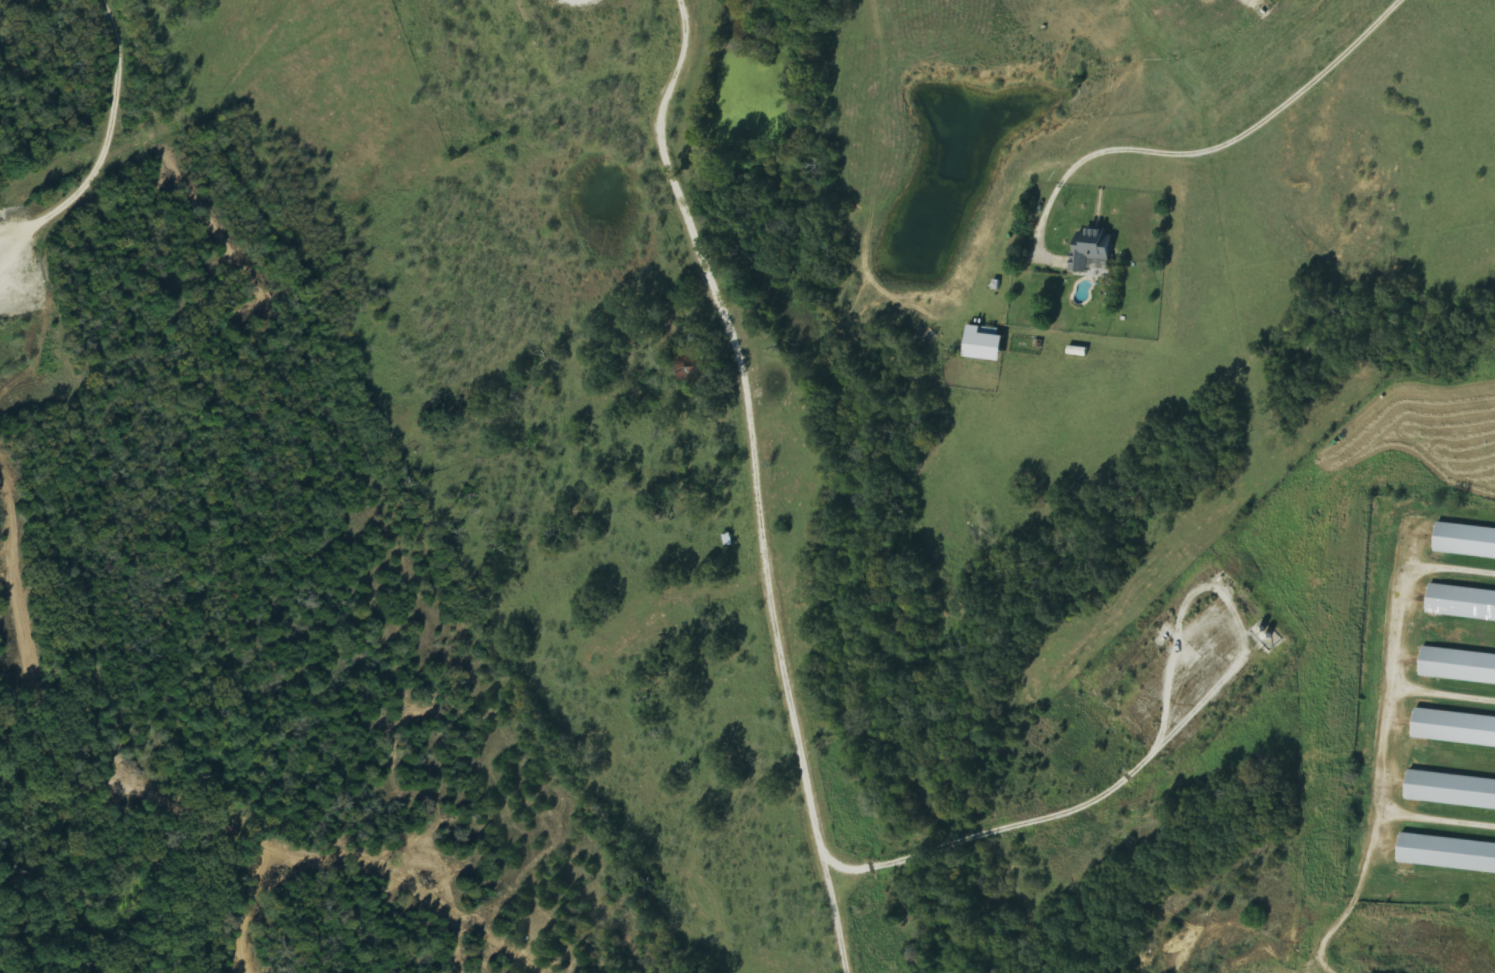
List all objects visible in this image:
building: (1093, 249)
building: (1099, 268)
building: (986, 344)
road: (754, 479)
building: (1466, 543)
building: (1462, 604)
building: (1458, 667)
building: (1455, 729)
building: (1451, 792)
building: (1448, 855)

